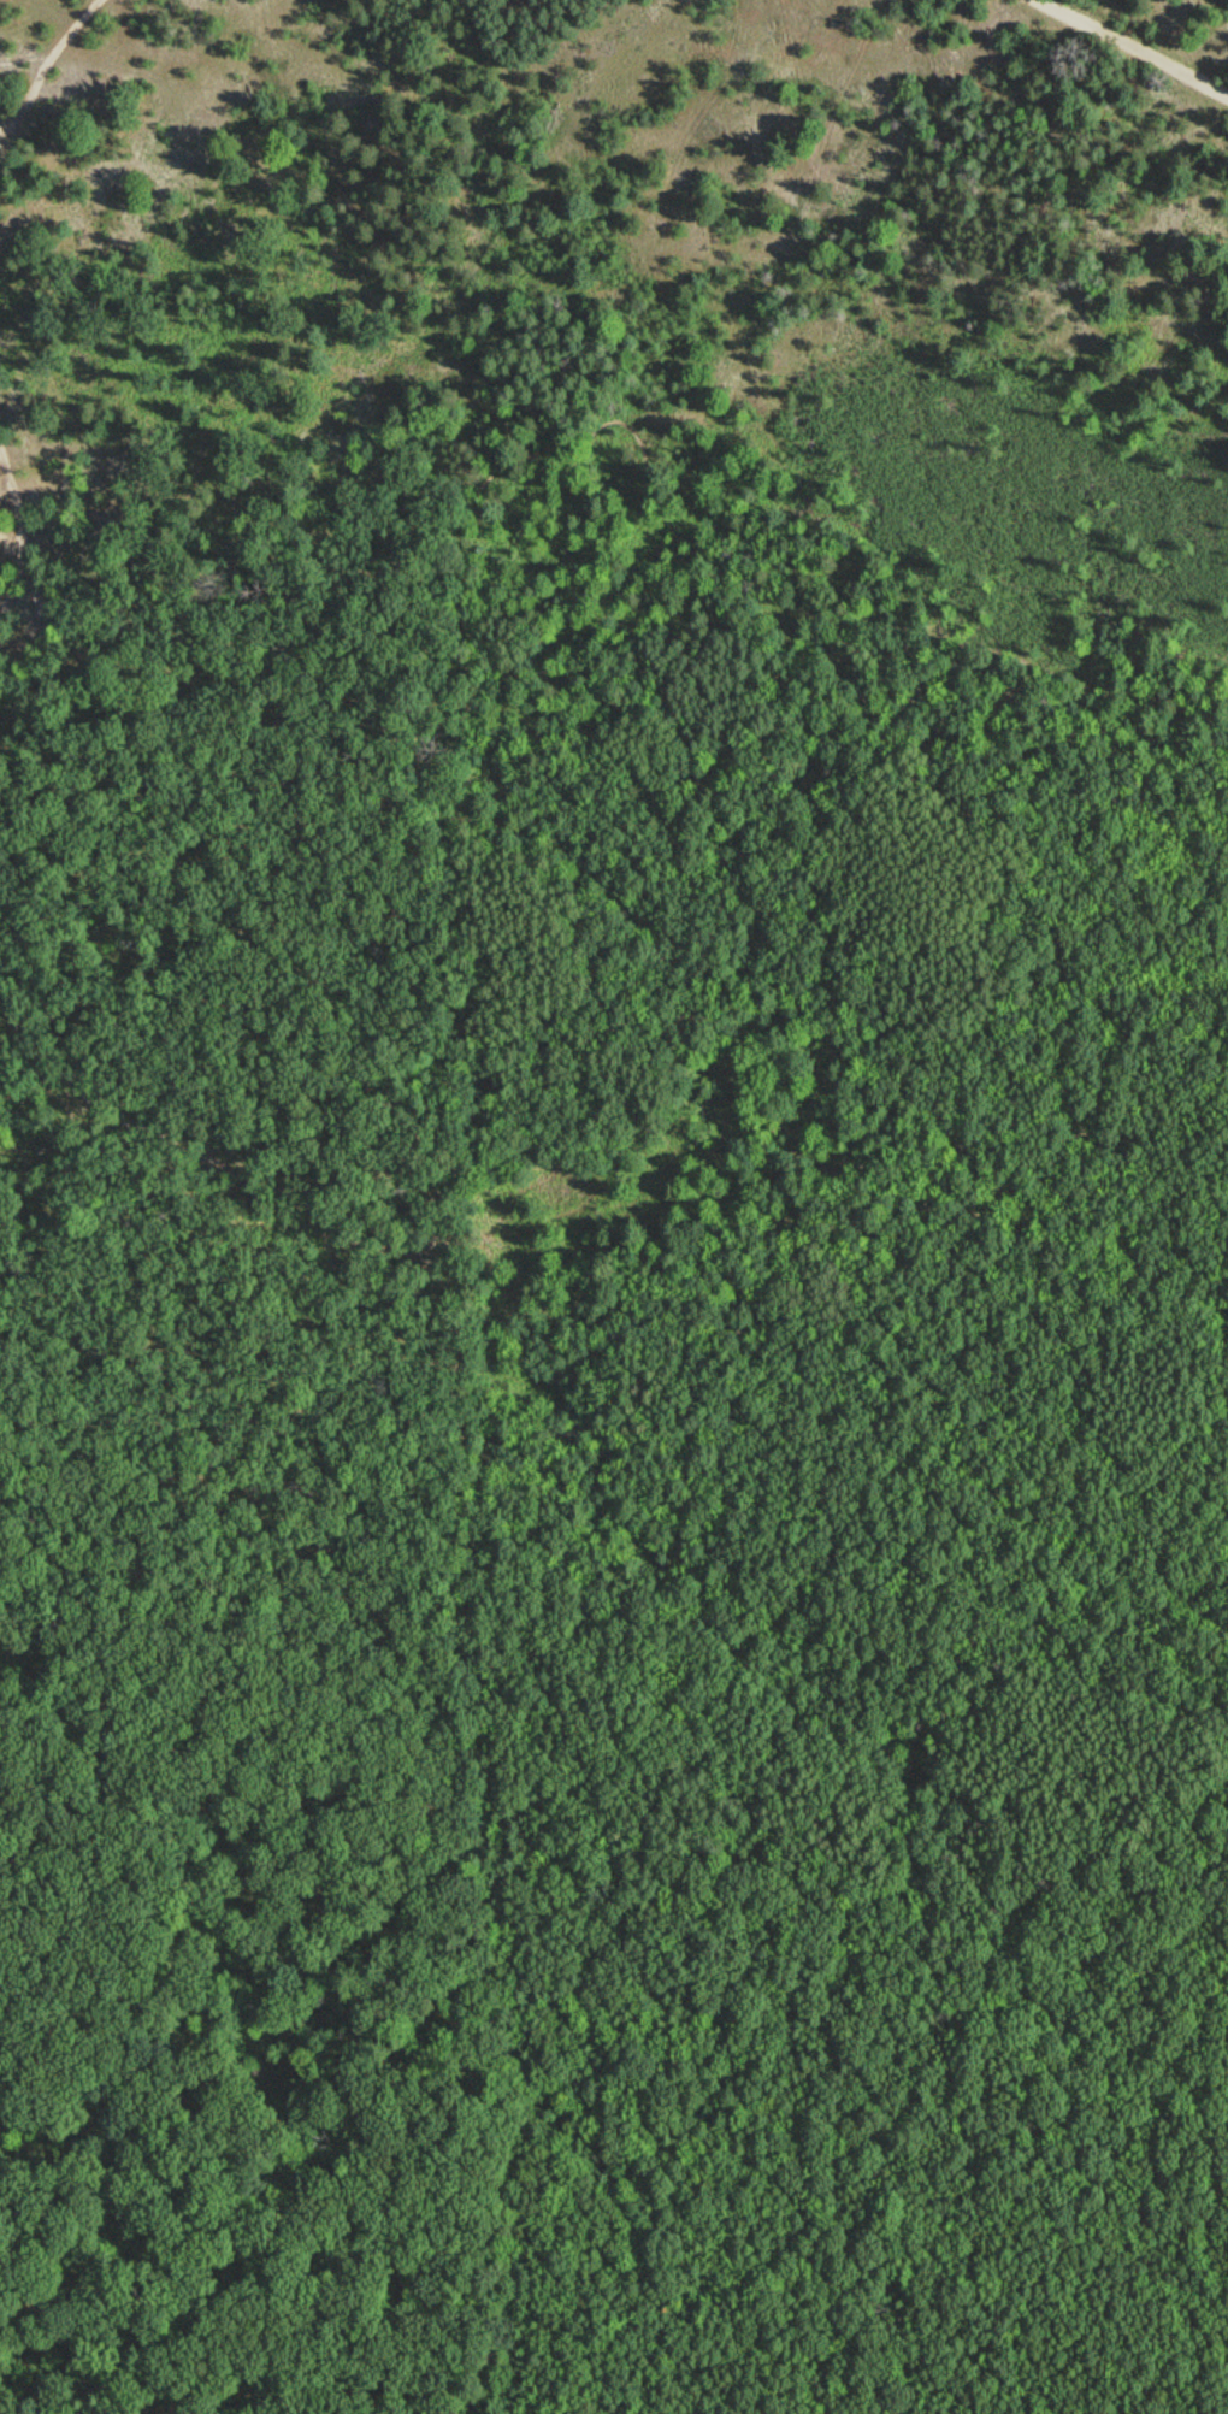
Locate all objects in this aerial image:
road: (1139, 46)
road: (48, 66)
road: (515, 477)
road: (12, 538)
road: (200, 1151)
road: (1003, 1865)

